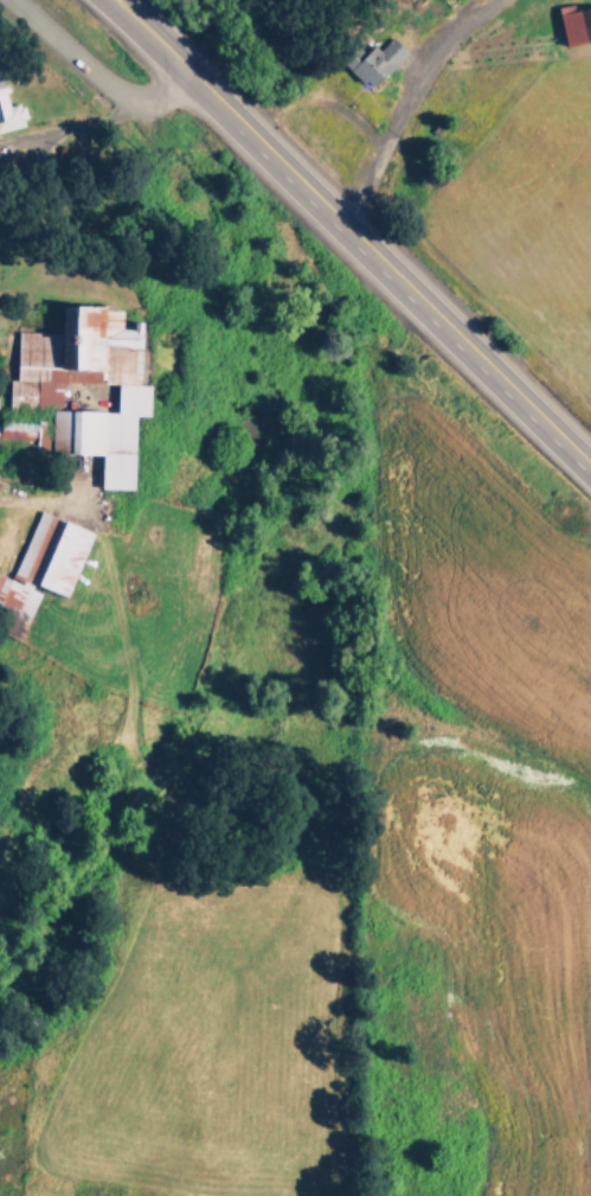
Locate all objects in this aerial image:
road: (117, 2)
road: (118, 2)
building: (577, 26)
building: (380, 58)
road: (96, 76)
road: (403, 101)
building: (11, 108)
road: (78, 126)
crop: (475, 153)
road: (356, 235)
building: (94, 388)
building: (26, 433)
building: (46, 569)
crop: (268, 714)

